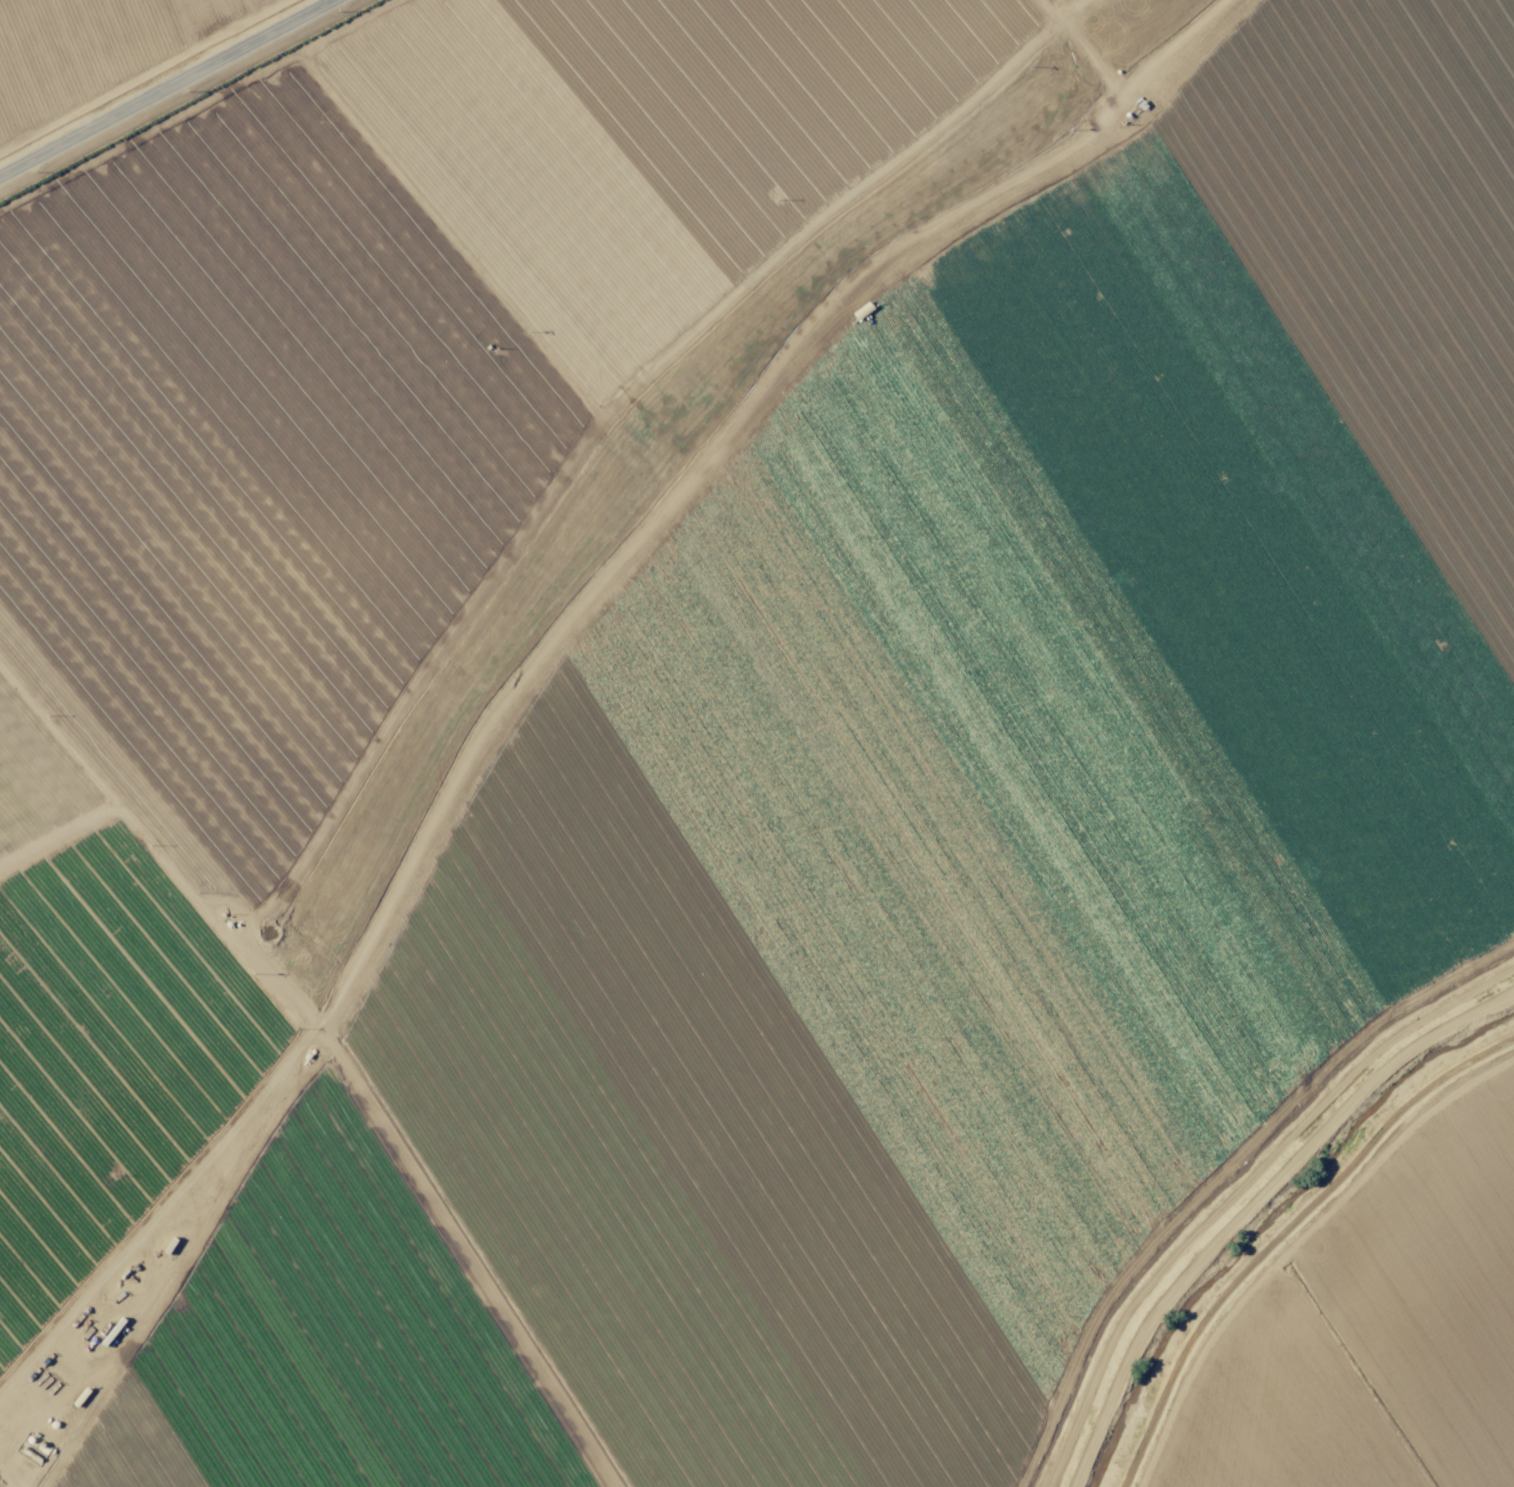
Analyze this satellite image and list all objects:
road: (170, 90)
road: (612, 656)
crop: (757, 743)
road: (1290, 1242)
building: (156, 1260)
road: (577, 1262)
building: (34, 1448)
road: (22, 1451)

